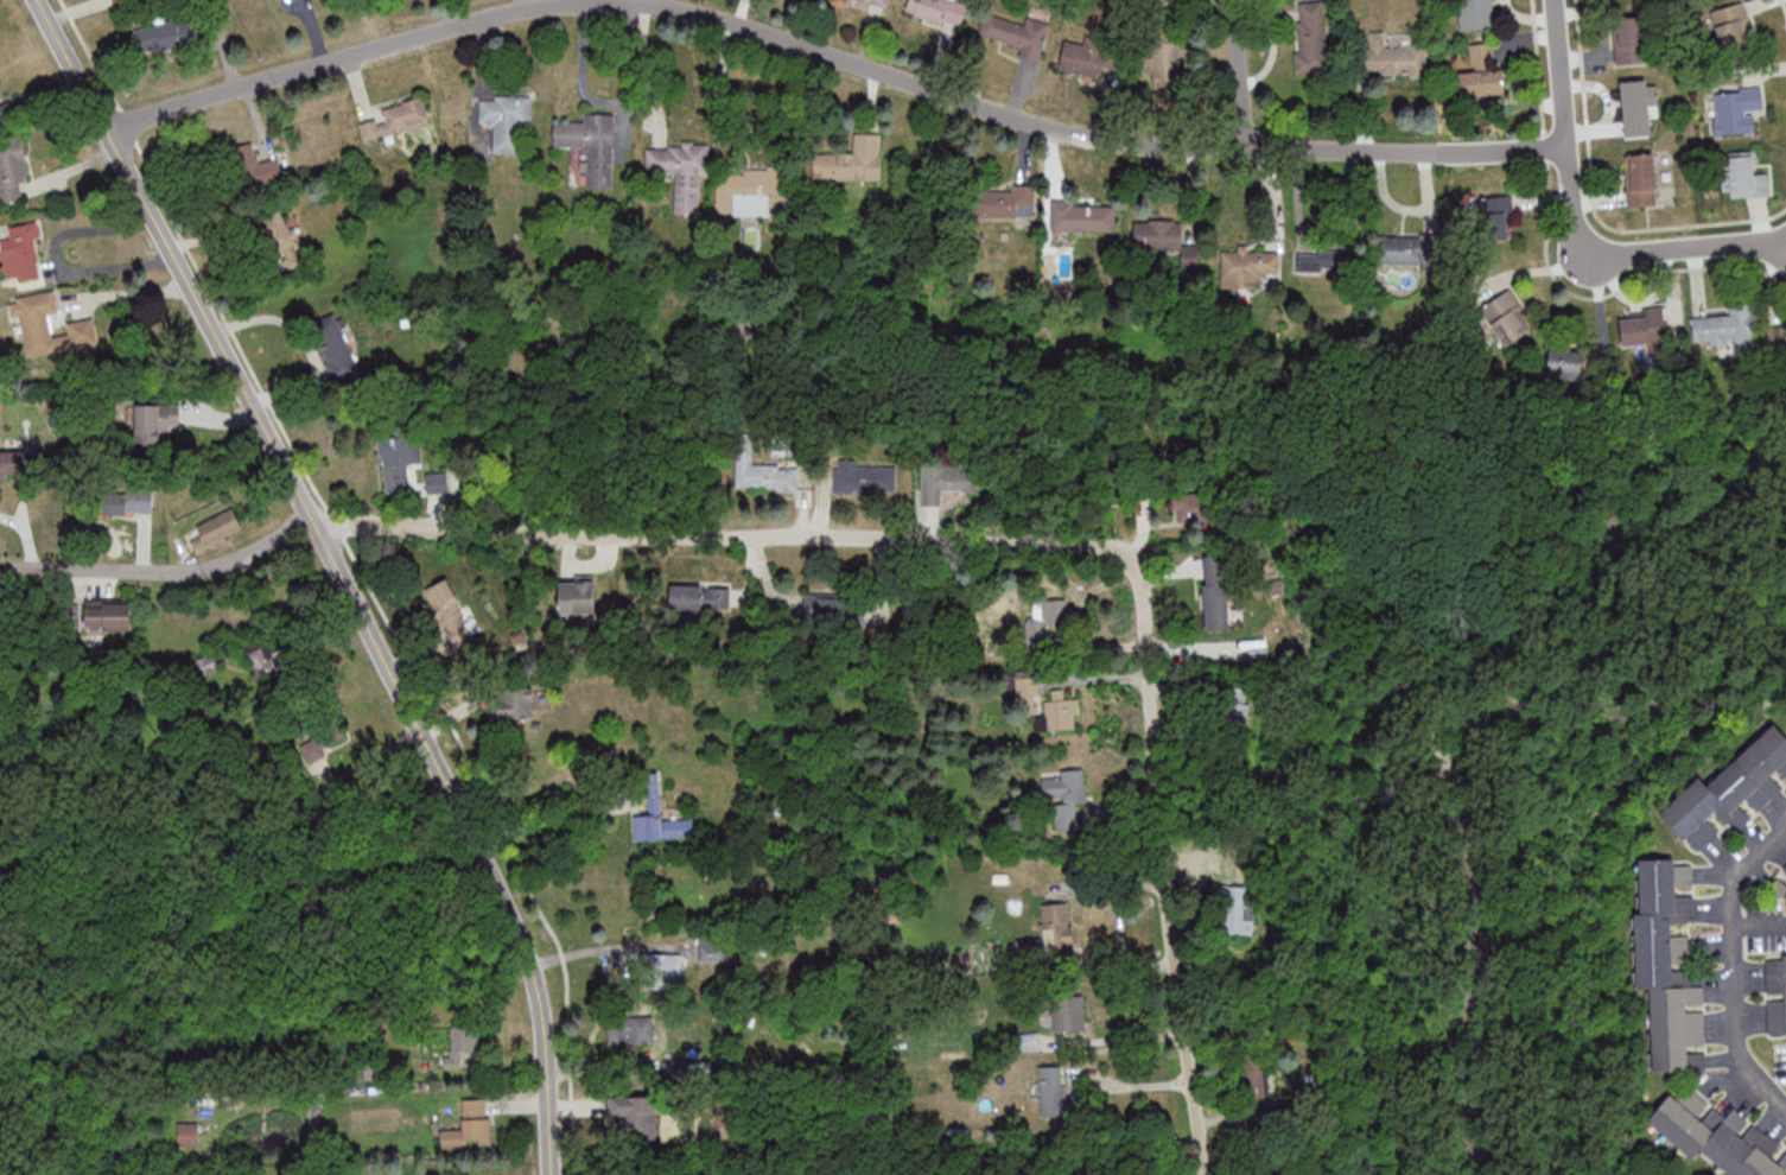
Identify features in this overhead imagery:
road: (634, 1)
building: (877, 2)
building: (938, 11)
building: (1476, 13)
building: (1731, 25)
building: (165, 34)
building: (1018, 34)
building: (1311, 37)
building: (1628, 39)
road: (832, 55)
building: (1165, 55)
building: (1391, 57)
building: (1086, 59)
building: (1481, 71)
road: (1240, 74)
road: (1561, 74)
building: (0, 93)
road: (606, 101)
building: (1636, 108)
building: (1735, 112)
building: (396, 119)
building: (504, 119)
building: (591, 146)
building: (851, 161)
building: (256, 166)
building: (12, 169)
building: (680, 172)
building: (1744, 177)
building: (1640, 179)
building: (750, 191)
building: (997, 203)
building: (1083, 217)
building: (1495, 217)
building: (1157, 236)
building: (282, 241)
building: (1397, 250)
road: (1635, 252)
building: (20, 253)
building: (1320, 258)
building: (1247, 269)
road: (128, 292)
building: (1506, 318)
building: (49, 325)
building: (1724, 328)
building: (1644, 331)
building: (1777, 339)
building: (333, 347)
building: (1564, 366)
building: (154, 420)
building: (18, 463)
building: (395, 464)
building: (761, 471)
building: (864, 477)
building: (943, 482)
building: (125, 501)
building: (1197, 506)
building: (216, 528)
road: (1037, 545)
road: (163, 572)
road: (339, 572)
building: (1216, 593)
building: (577, 597)
building: (700, 597)
building: (832, 609)
building: (1053, 611)
building: (451, 614)
building: (107, 615)
building: (206, 661)
building: (273, 662)
building: (515, 703)
building: (1234, 709)
building: (1061, 711)
building: (319, 743)
river: (1442, 762)
building: (1729, 792)
building: (1064, 793)
building: (660, 817)
road: (545, 818)
building: (1780, 887)
building: (1240, 916)
building: (1050, 934)
building: (711, 953)
building: (662, 966)
building: (1667, 966)
road: (1734, 970)
building: (1775, 996)
building: (1067, 1012)
building: (630, 1031)
road: (1119, 1037)
building: (464, 1048)
building: (1256, 1078)
building: (1053, 1091)
building: (634, 1114)
building: (470, 1126)
building: (188, 1133)
building: (1716, 1136)

